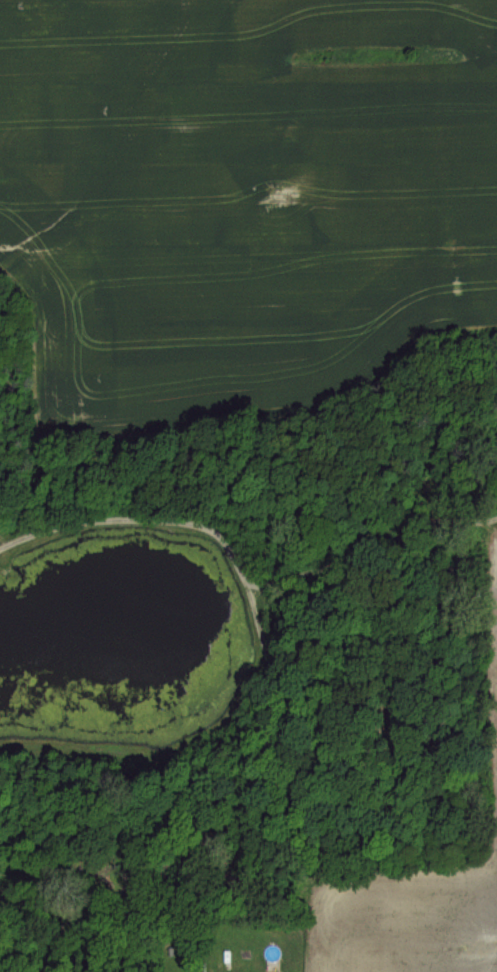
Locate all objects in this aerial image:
crop: (245, 192)
crop: (419, 895)

